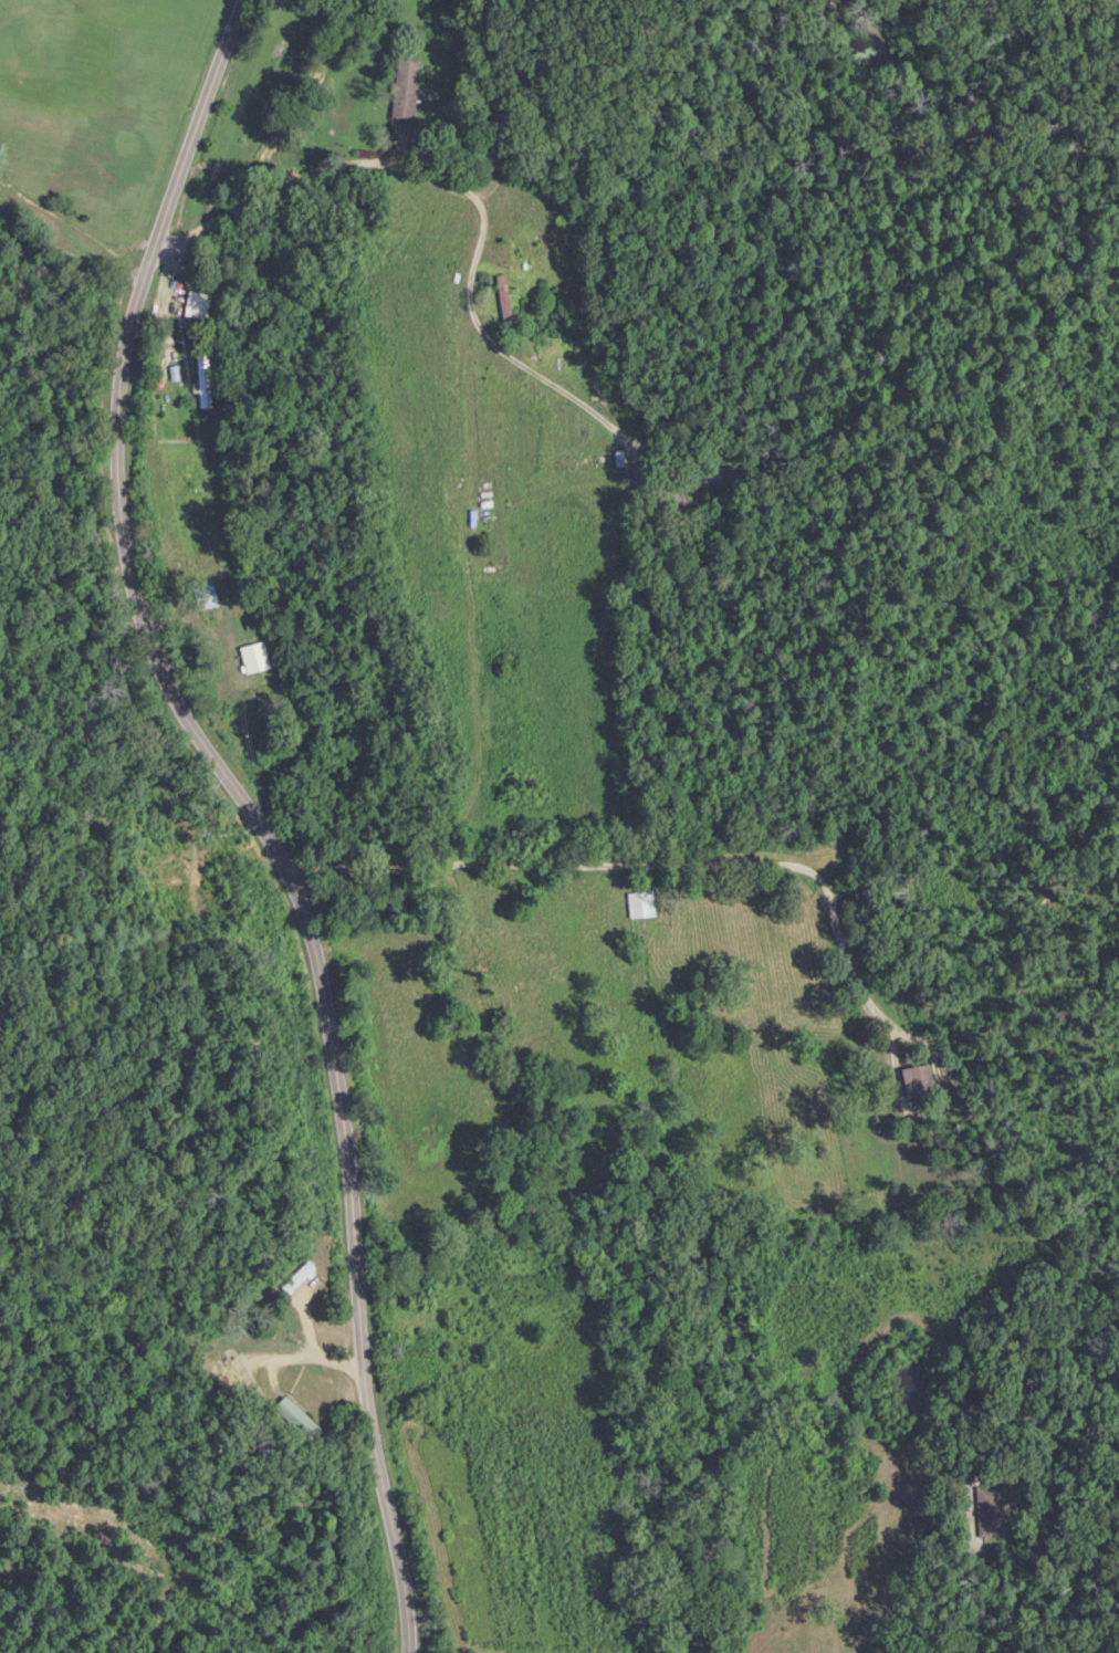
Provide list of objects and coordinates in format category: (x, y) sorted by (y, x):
building: (402, 91)
road: (481, 200)
road: (72, 226)
road: (11, 287)
building: (501, 299)
road: (176, 302)
building: (194, 306)
building: (201, 381)
building: (700, 474)
building: (203, 598)
building: (253, 660)
building: (223, 698)
road: (245, 813)
road: (651, 865)
building: (635, 907)
building: (857, 913)
building: (808, 952)
building: (913, 1081)
building: (295, 1278)
road: (274, 1358)
building: (296, 1420)
building: (989, 1511)
road: (979, 1587)

